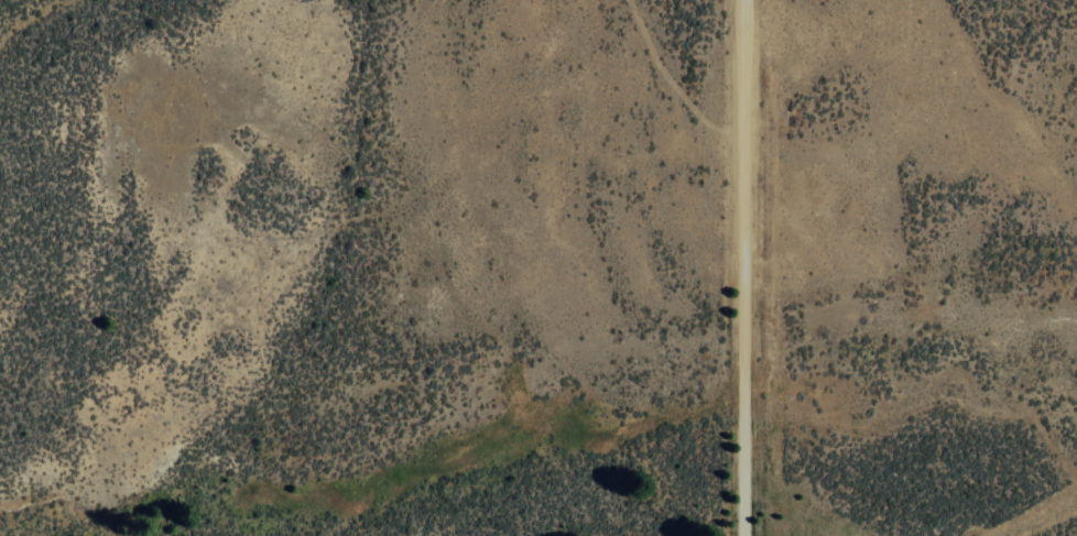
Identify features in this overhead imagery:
crop: (538, 267)
road: (744, 267)

